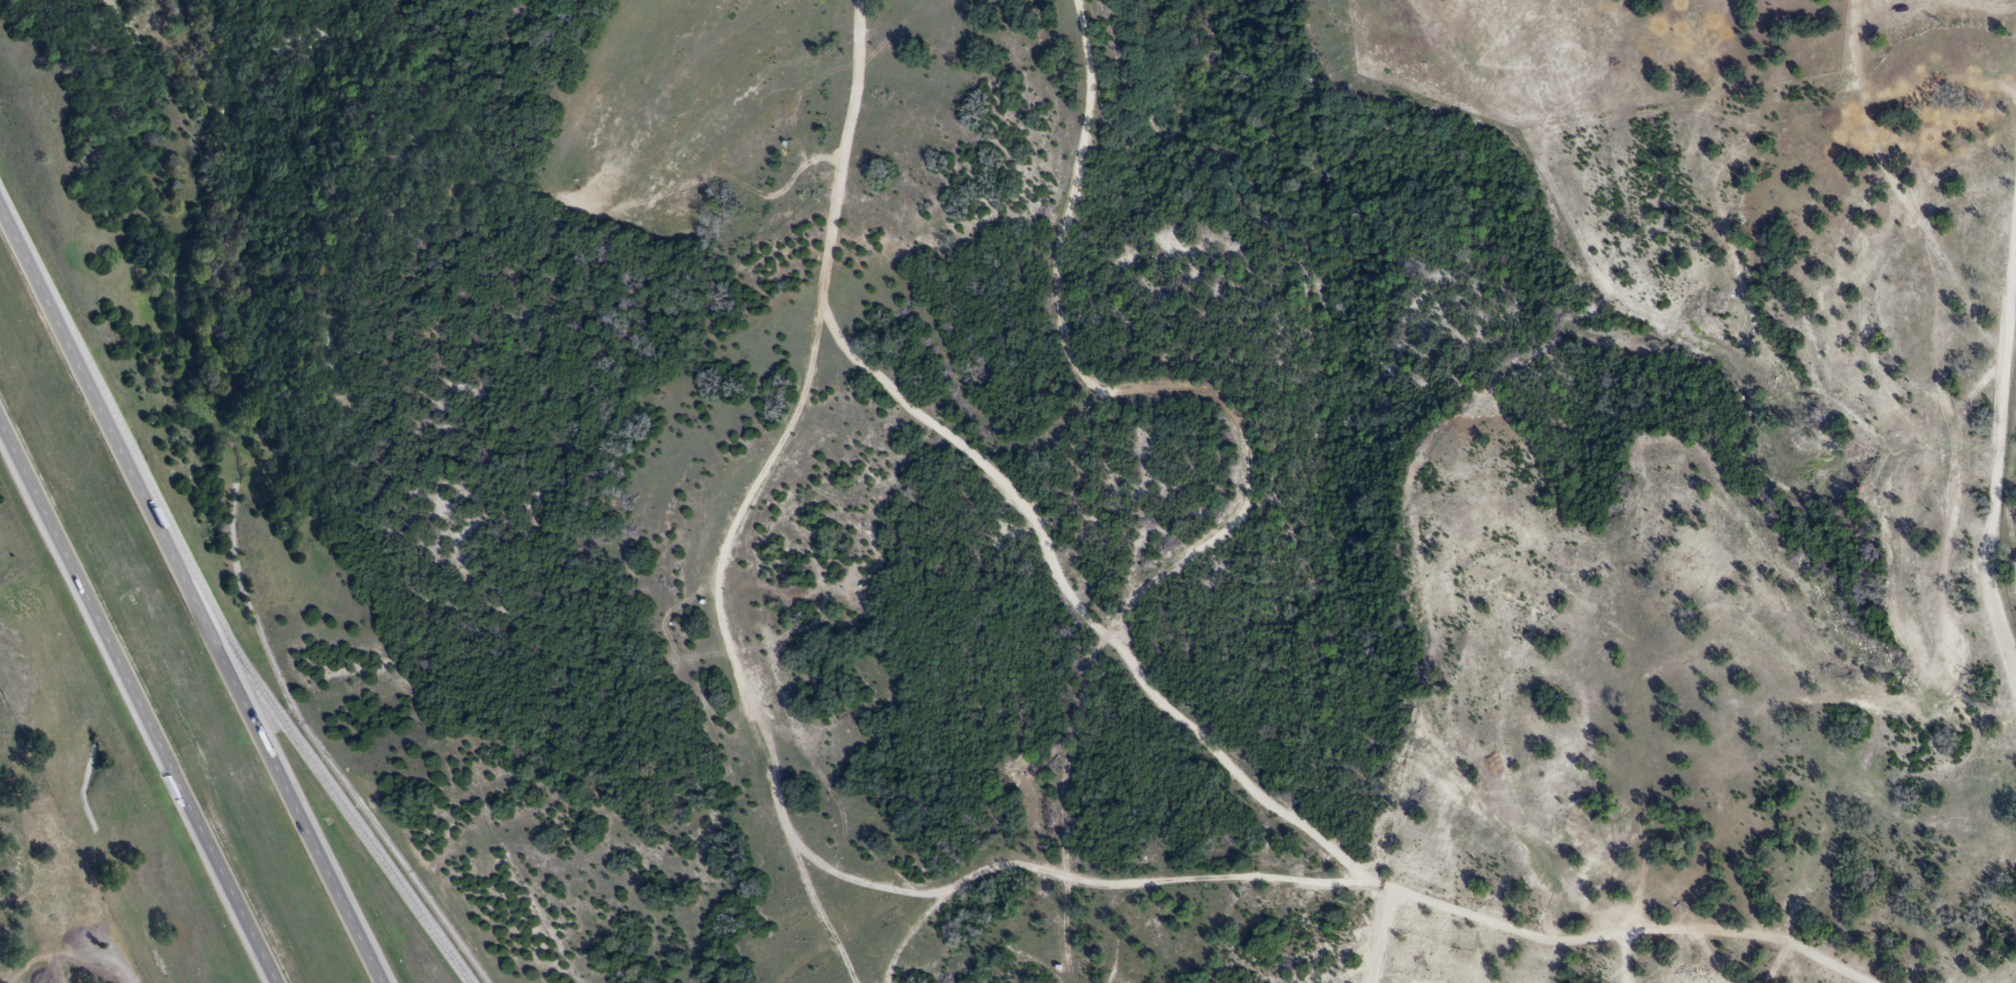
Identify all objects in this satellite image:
road: (189, 598)
road: (139, 698)
road: (297, 736)

